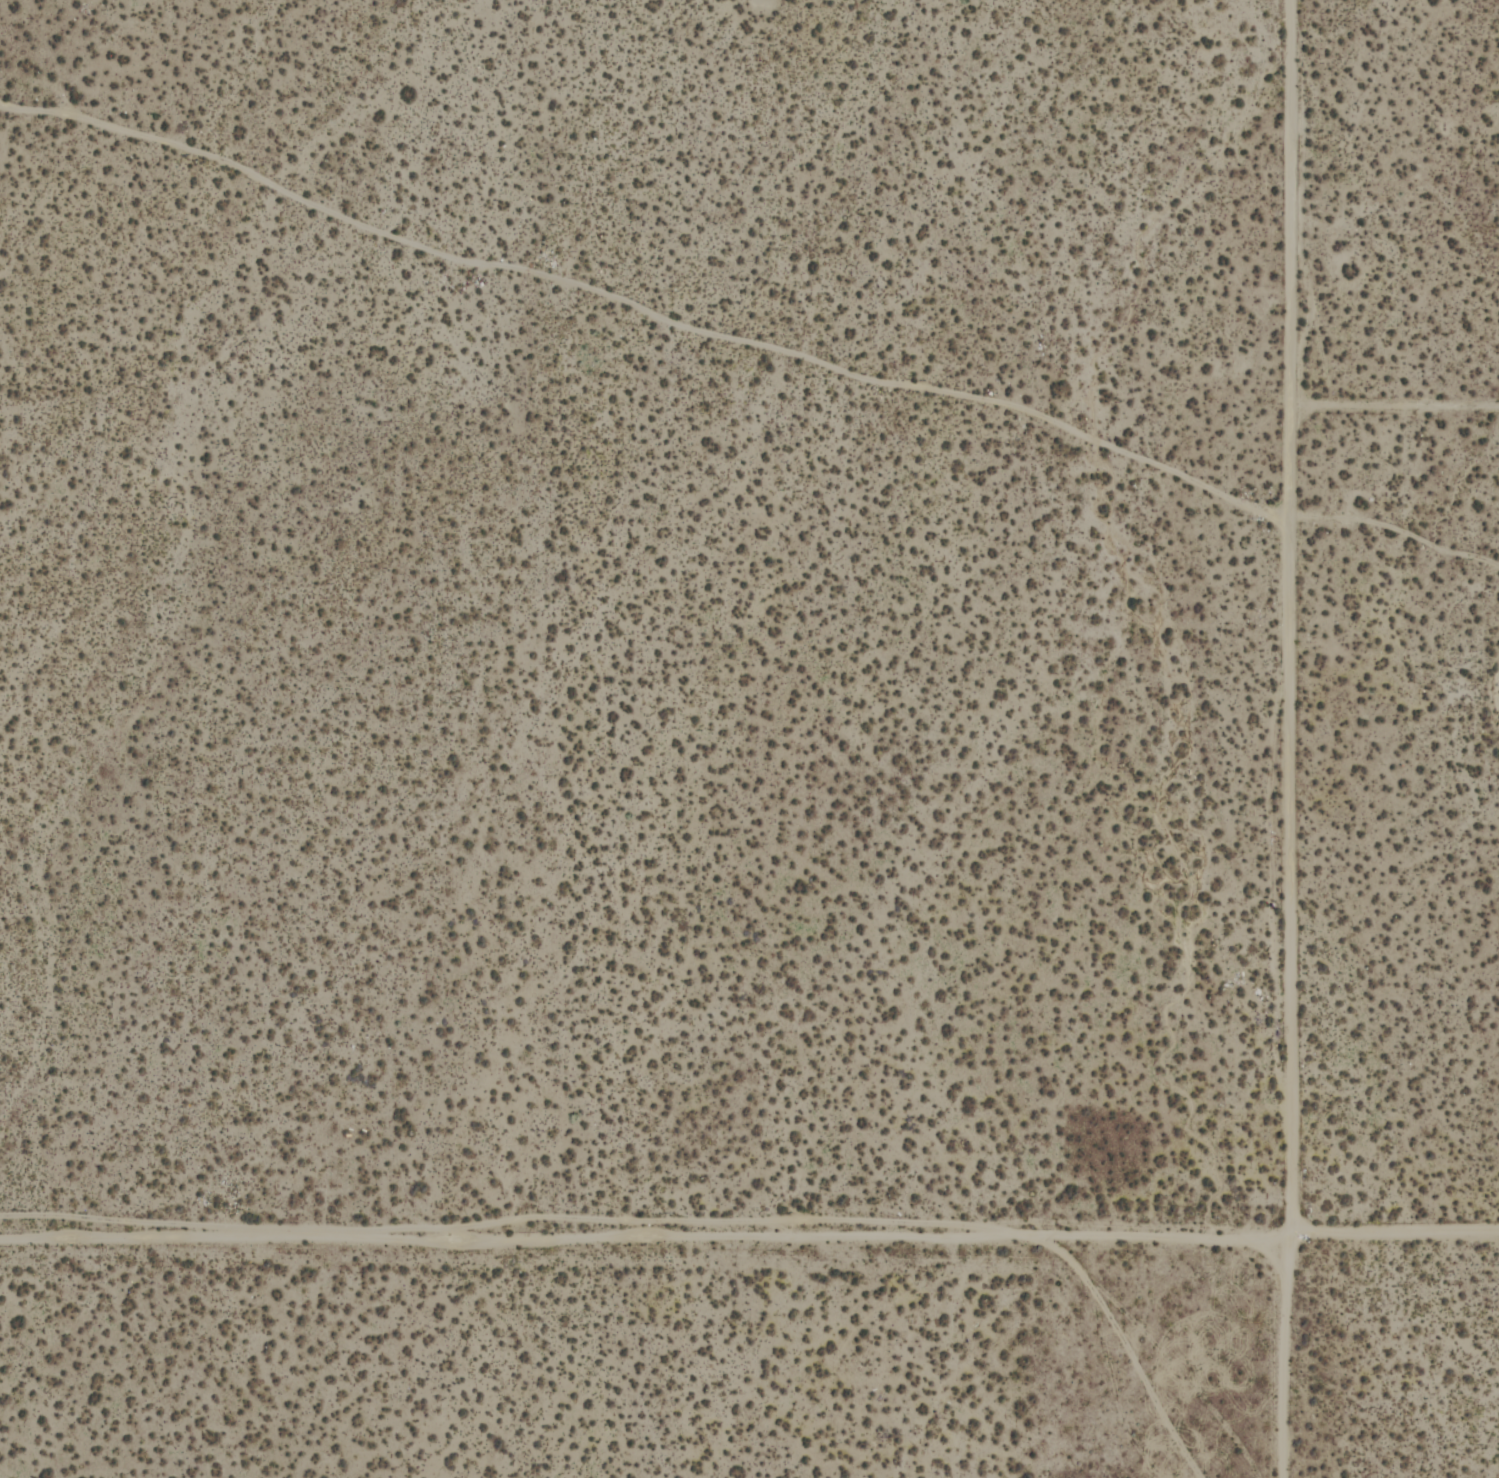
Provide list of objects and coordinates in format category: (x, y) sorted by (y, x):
road: (1298, 273)
road: (656, 301)
road: (1295, 1011)
road: (642, 1231)
road: (1392, 1232)

